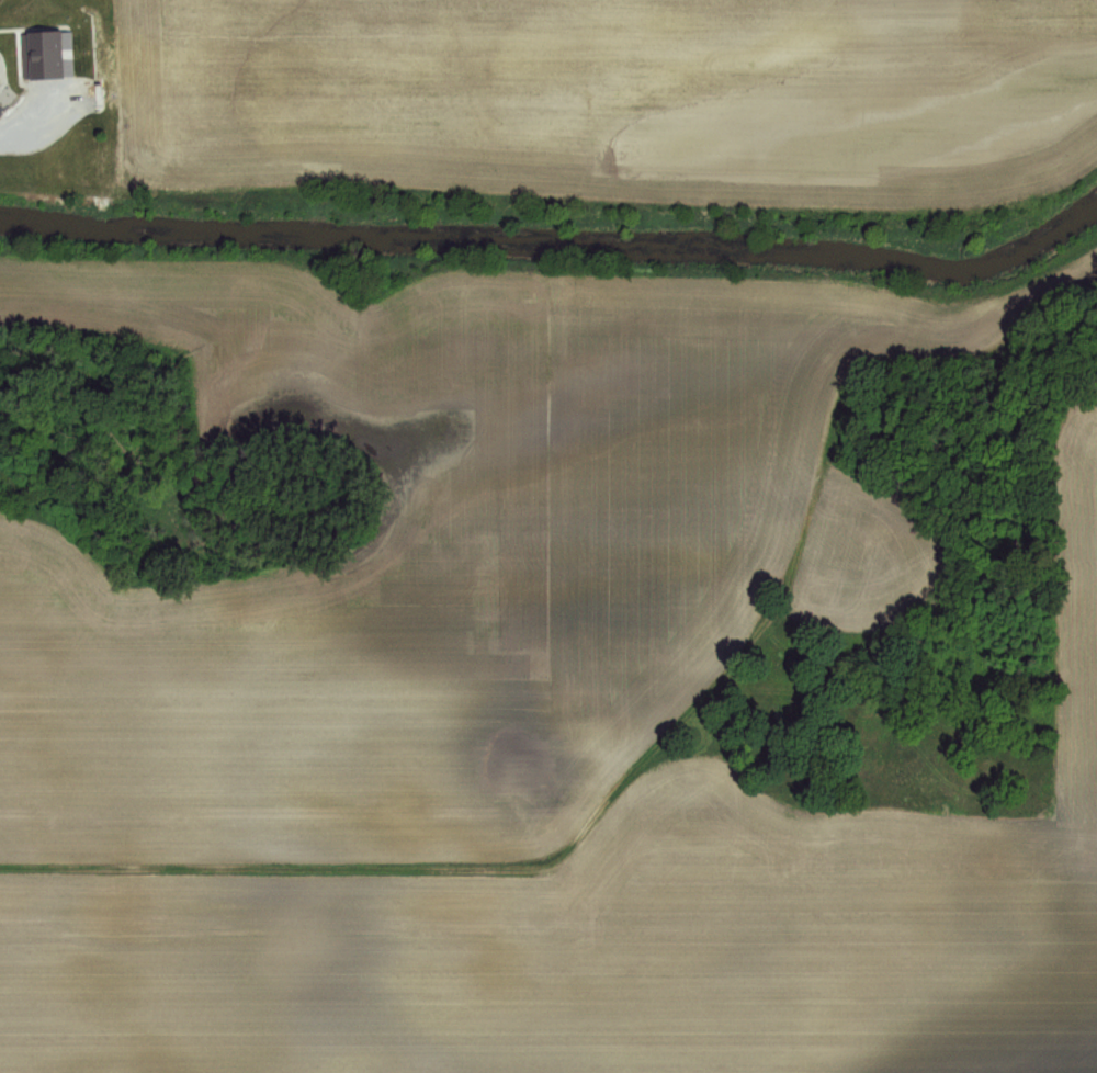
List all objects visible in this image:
building: (47, 55)
crop: (599, 102)
road: (20, 121)
river: (557, 245)
crop: (399, 535)
crop: (399, 535)
crop: (610, 925)

